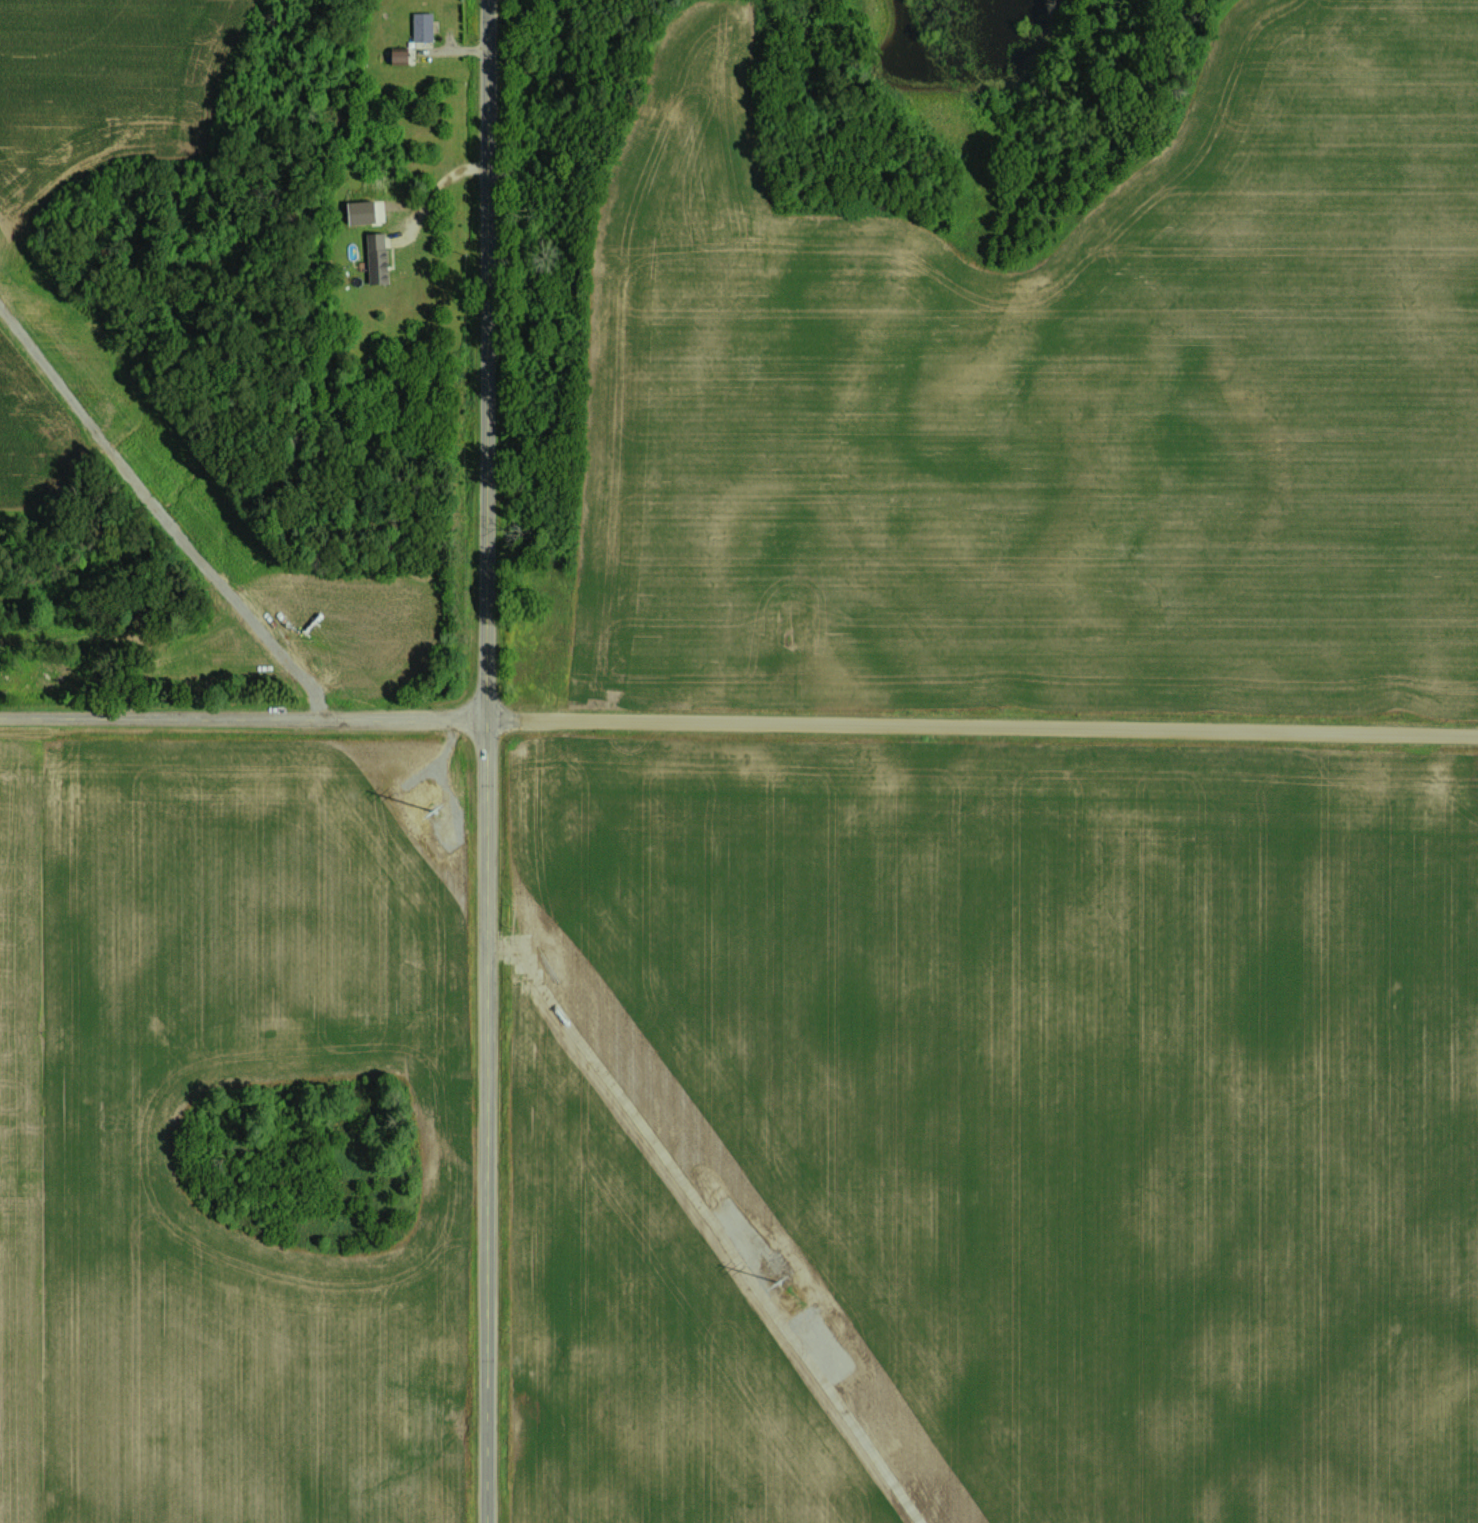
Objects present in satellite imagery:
building: (421, 25)
road: (436, 191)
building: (375, 257)
road: (739, 719)
road: (488, 761)
power tower: (424, 788)

